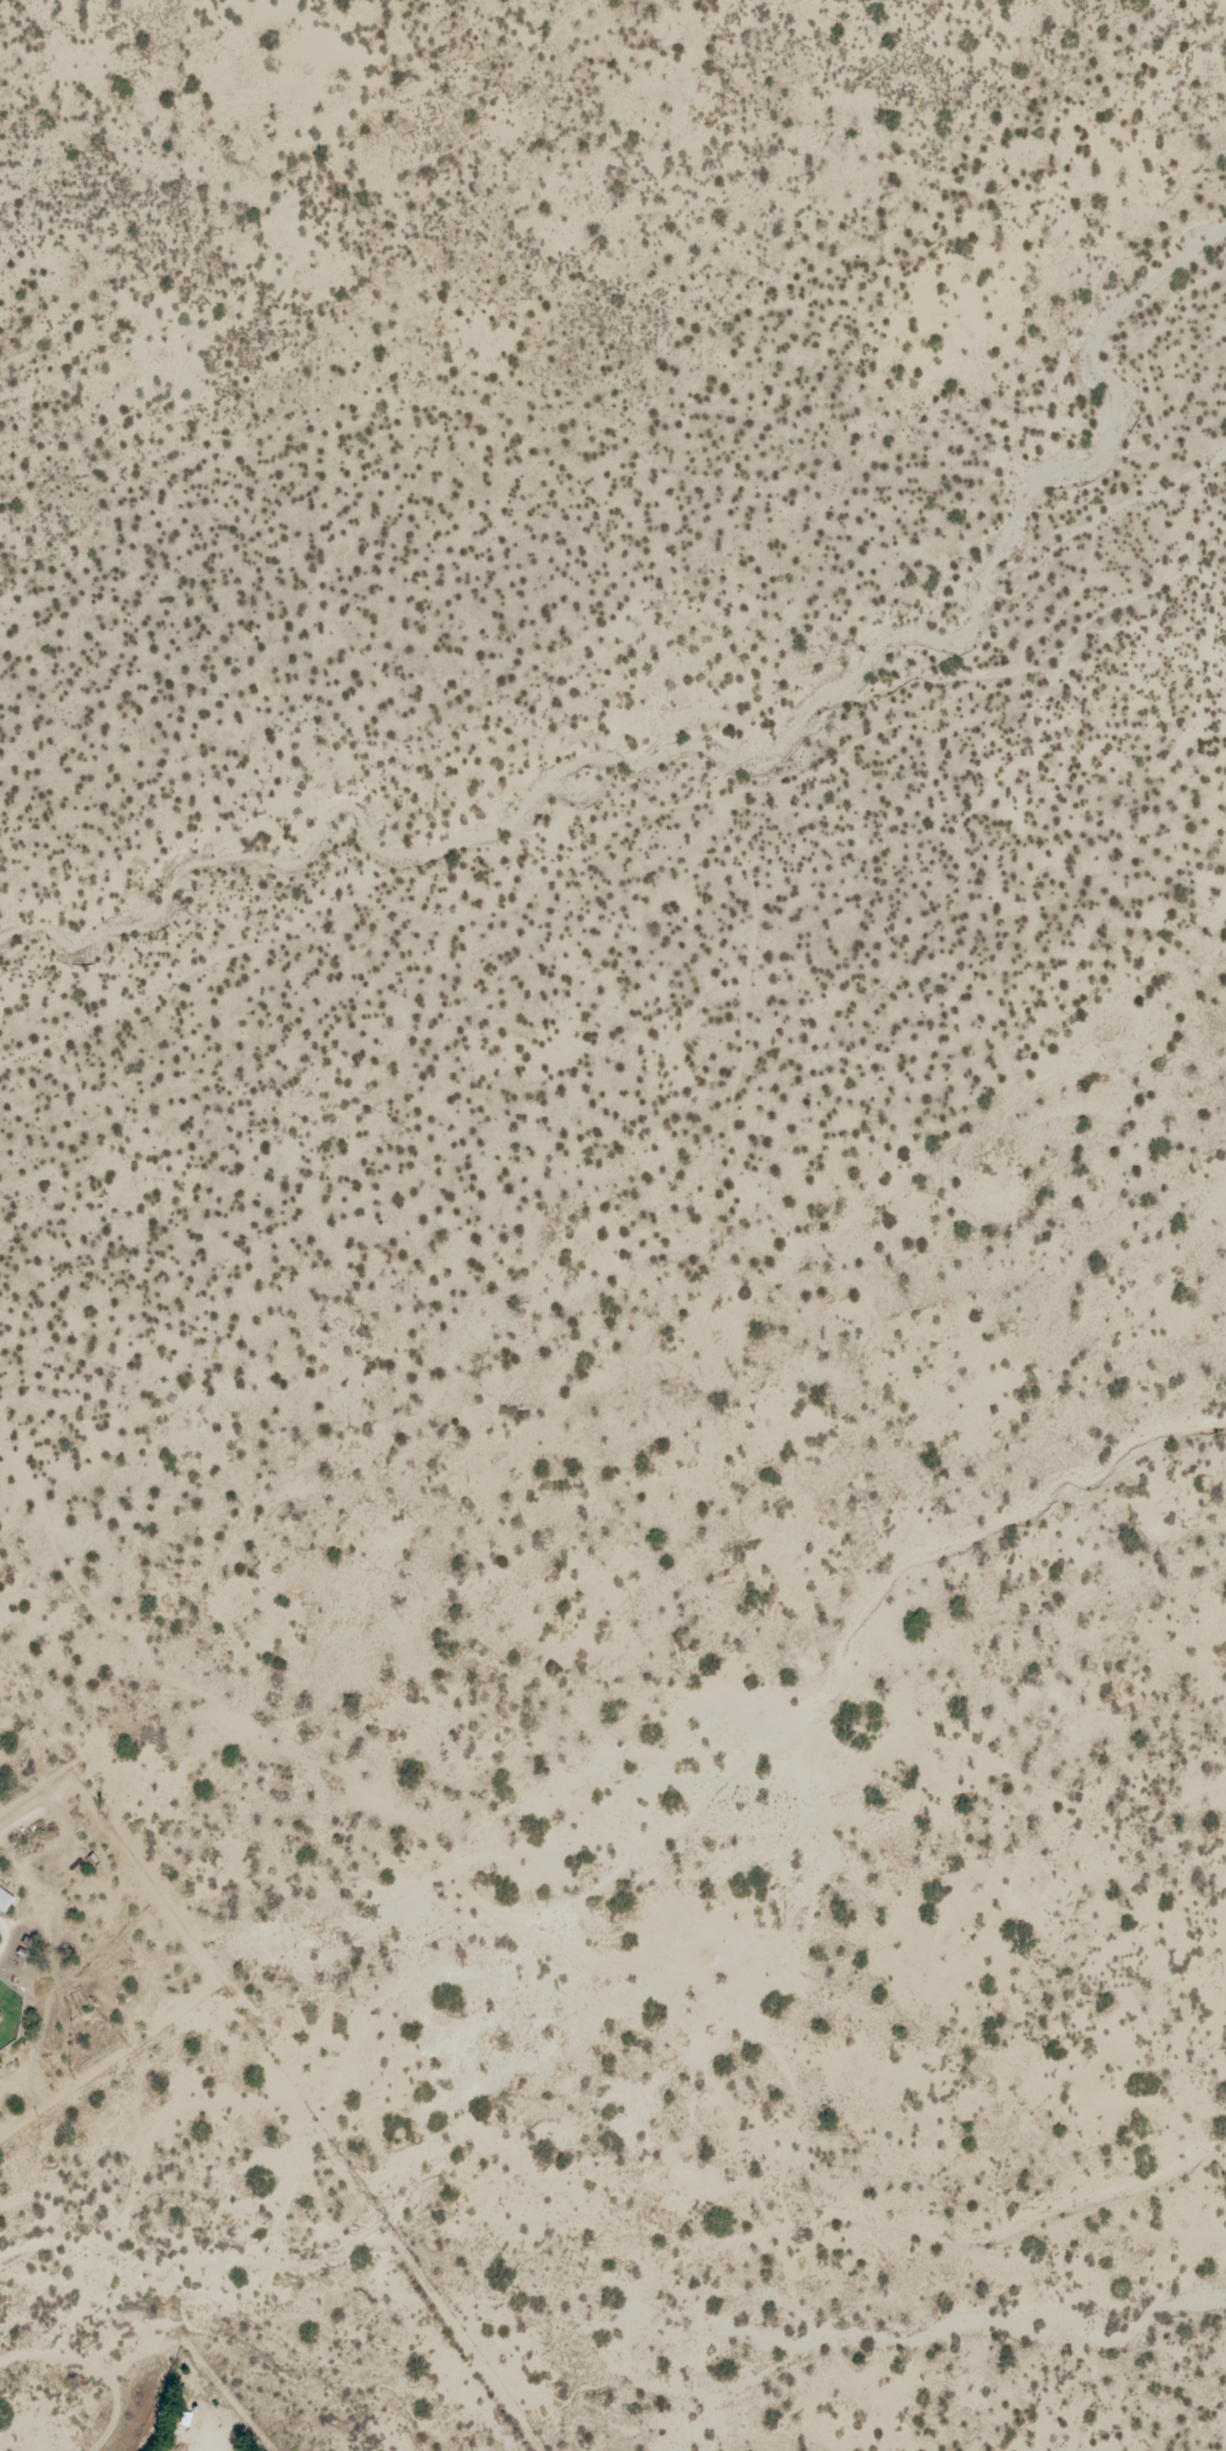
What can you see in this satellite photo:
road: (456, 831)
road: (154, 1884)
building: (6, 1902)

